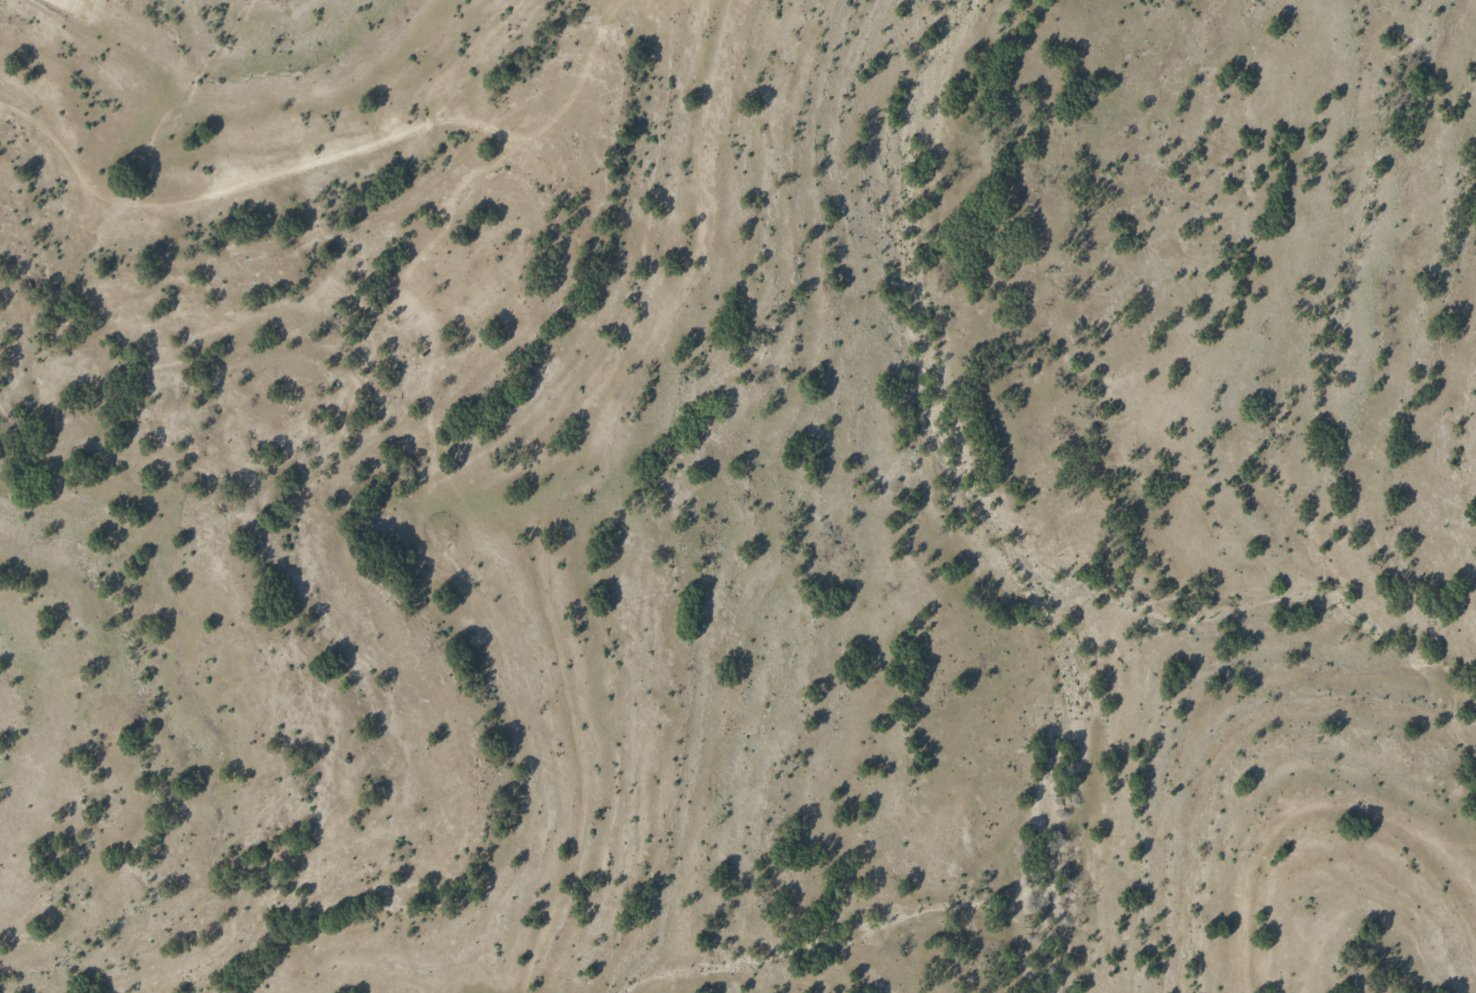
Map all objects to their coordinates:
road: (279, 182)

